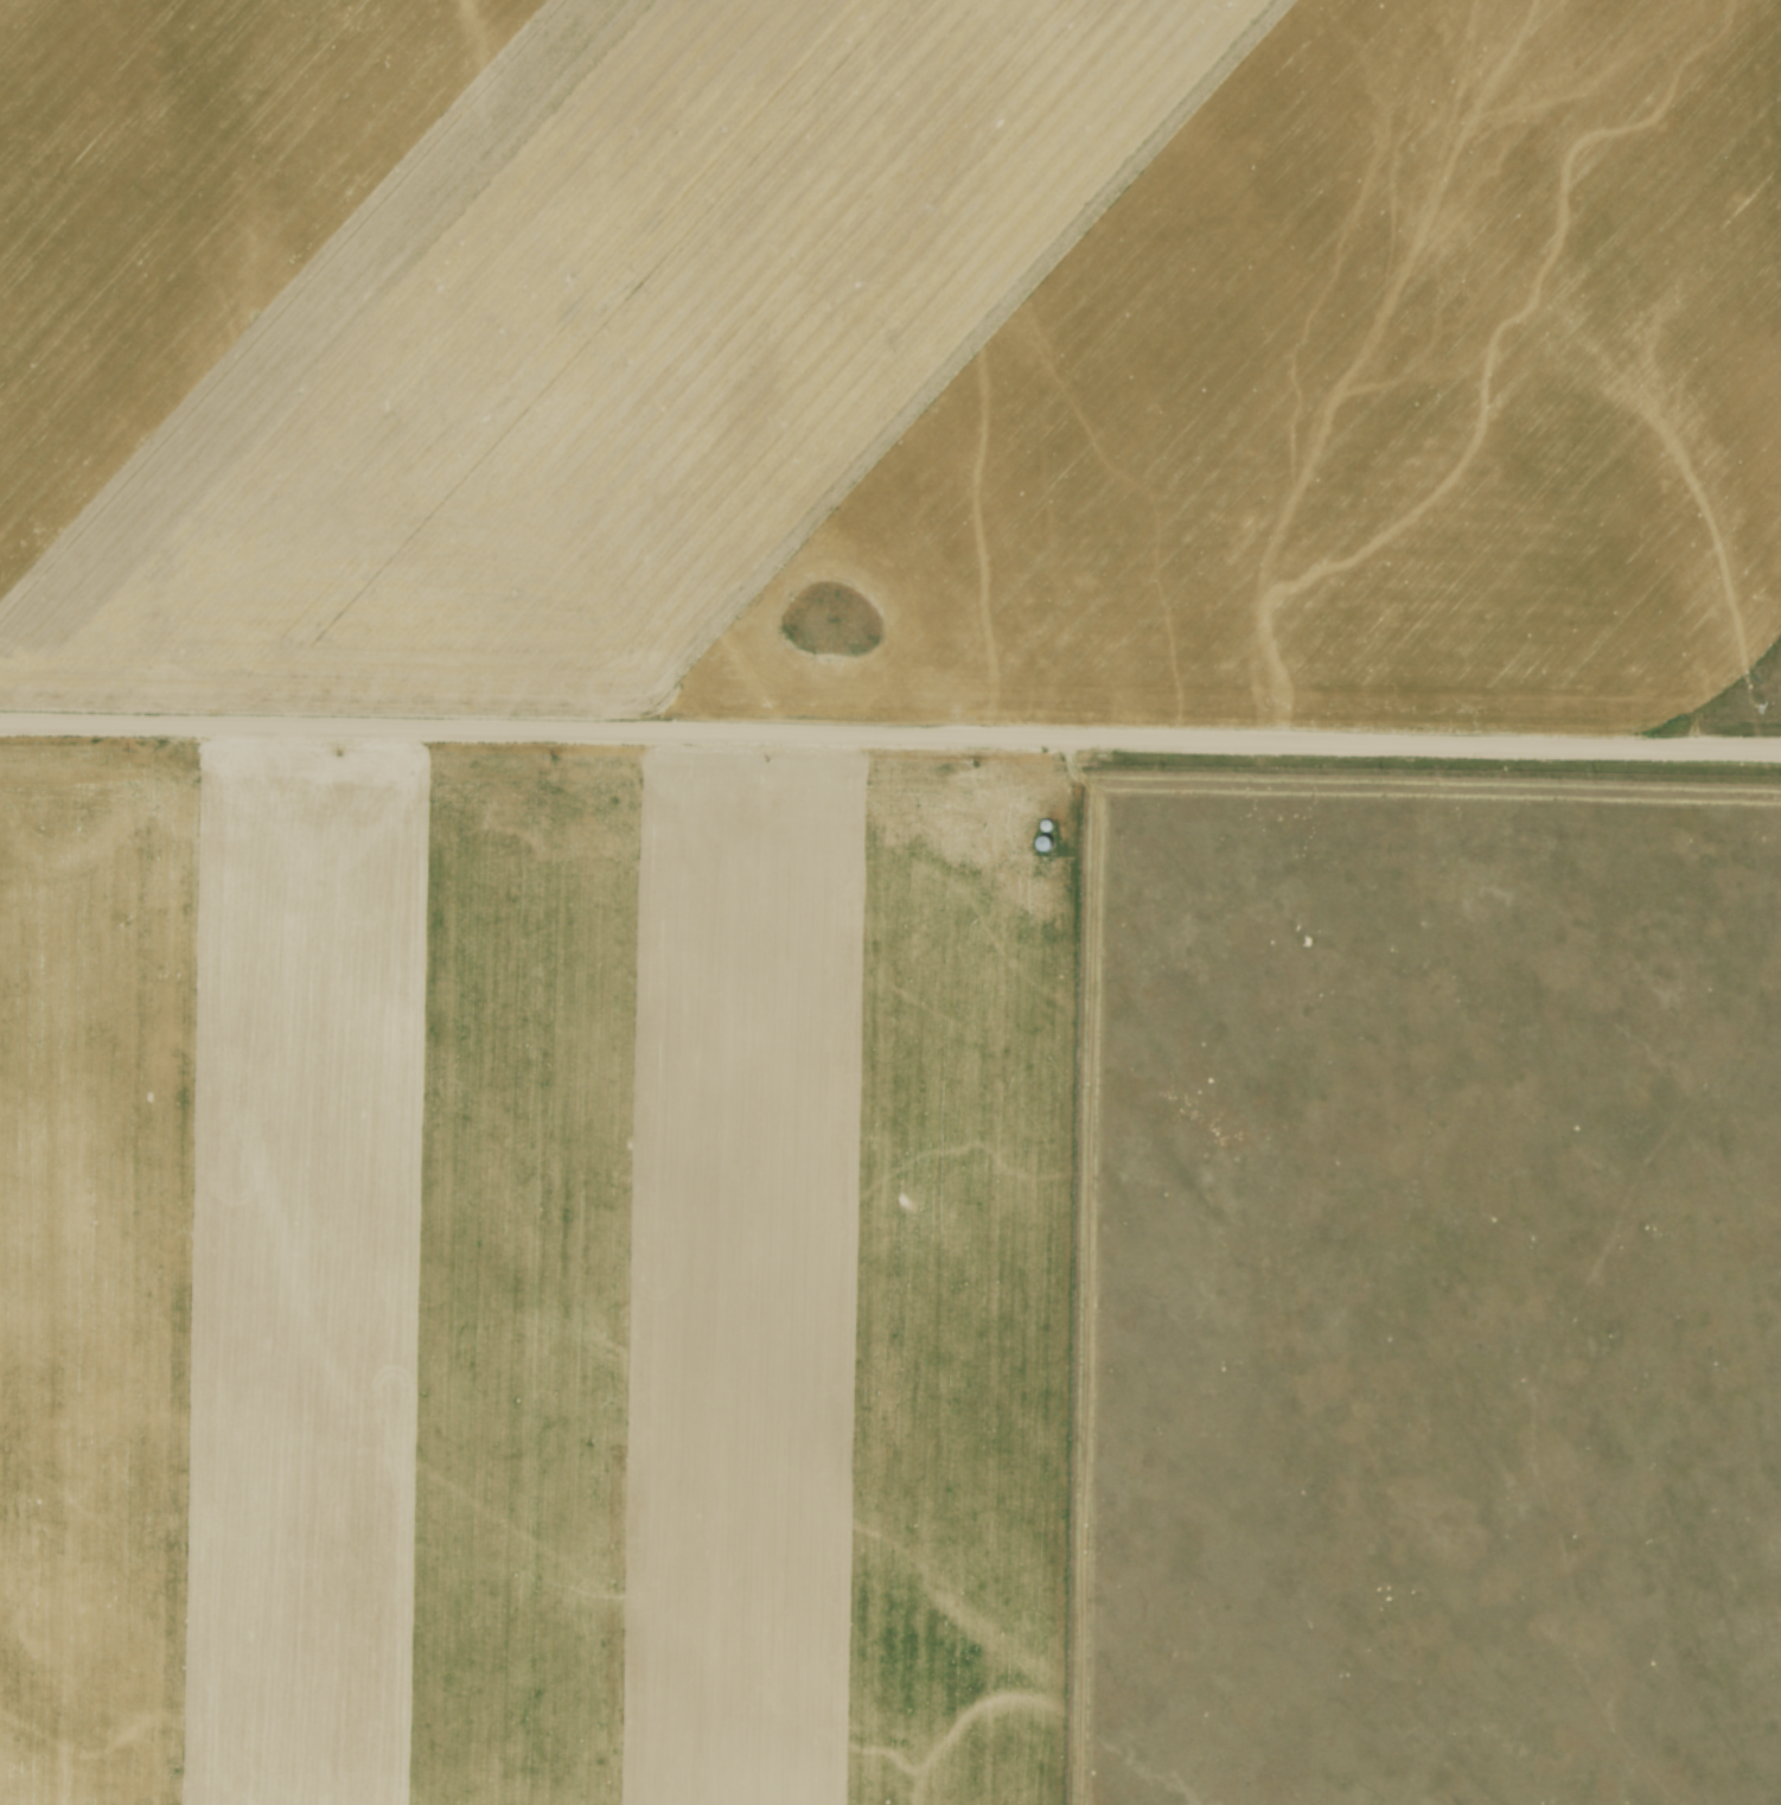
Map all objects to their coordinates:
crop: (893, 349)
road: (890, 733)
building: (1046, 843)
crop: (538, 1278)

